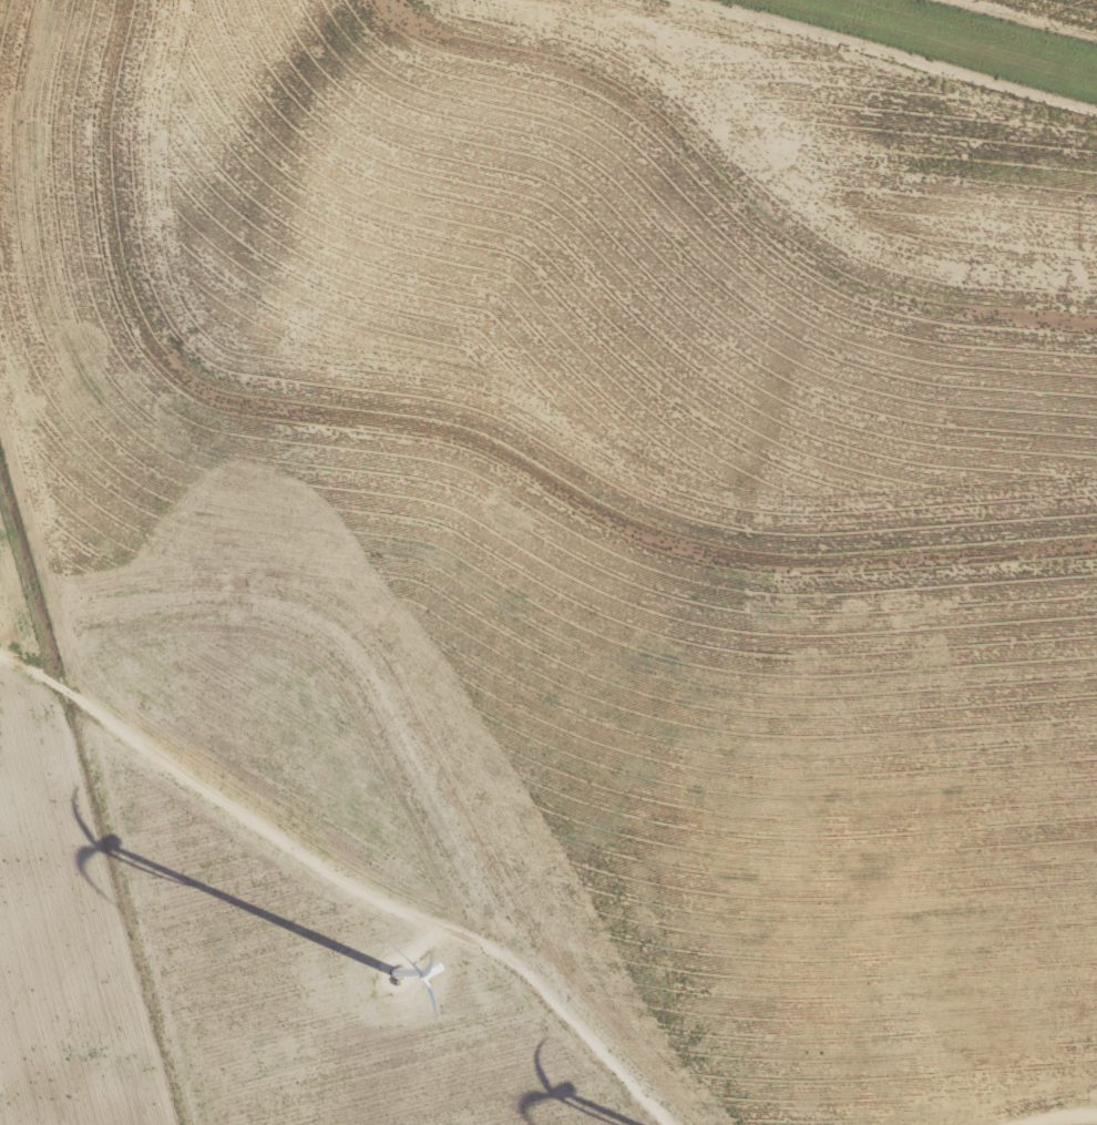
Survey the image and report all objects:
wind turbine: (393, 983)

